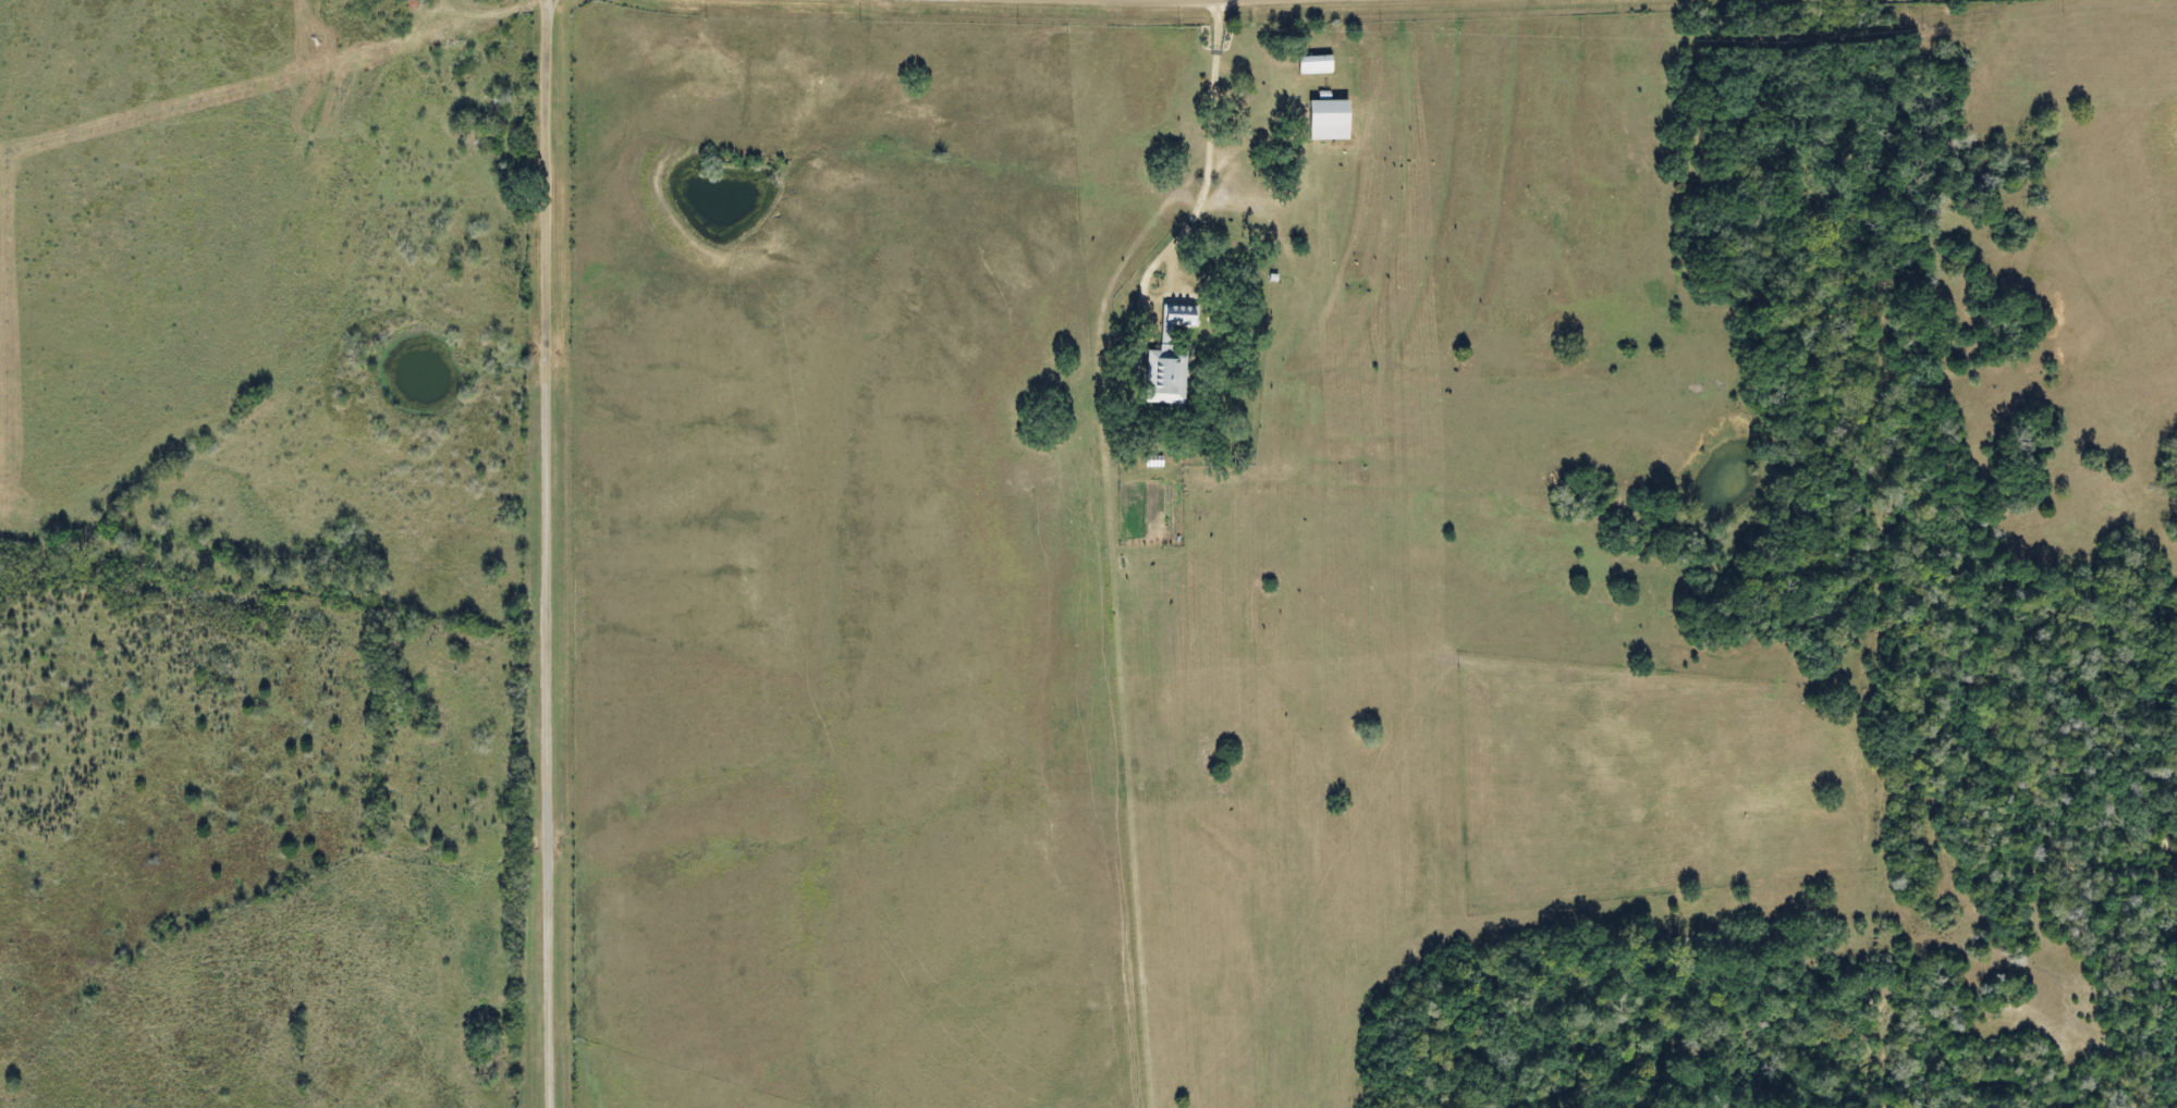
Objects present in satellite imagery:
building: (1316, 63)
building: (492, 103)
building: (1330, 119)
road: (568, 259)
building: (1169, 358)
road: (563, 812)

